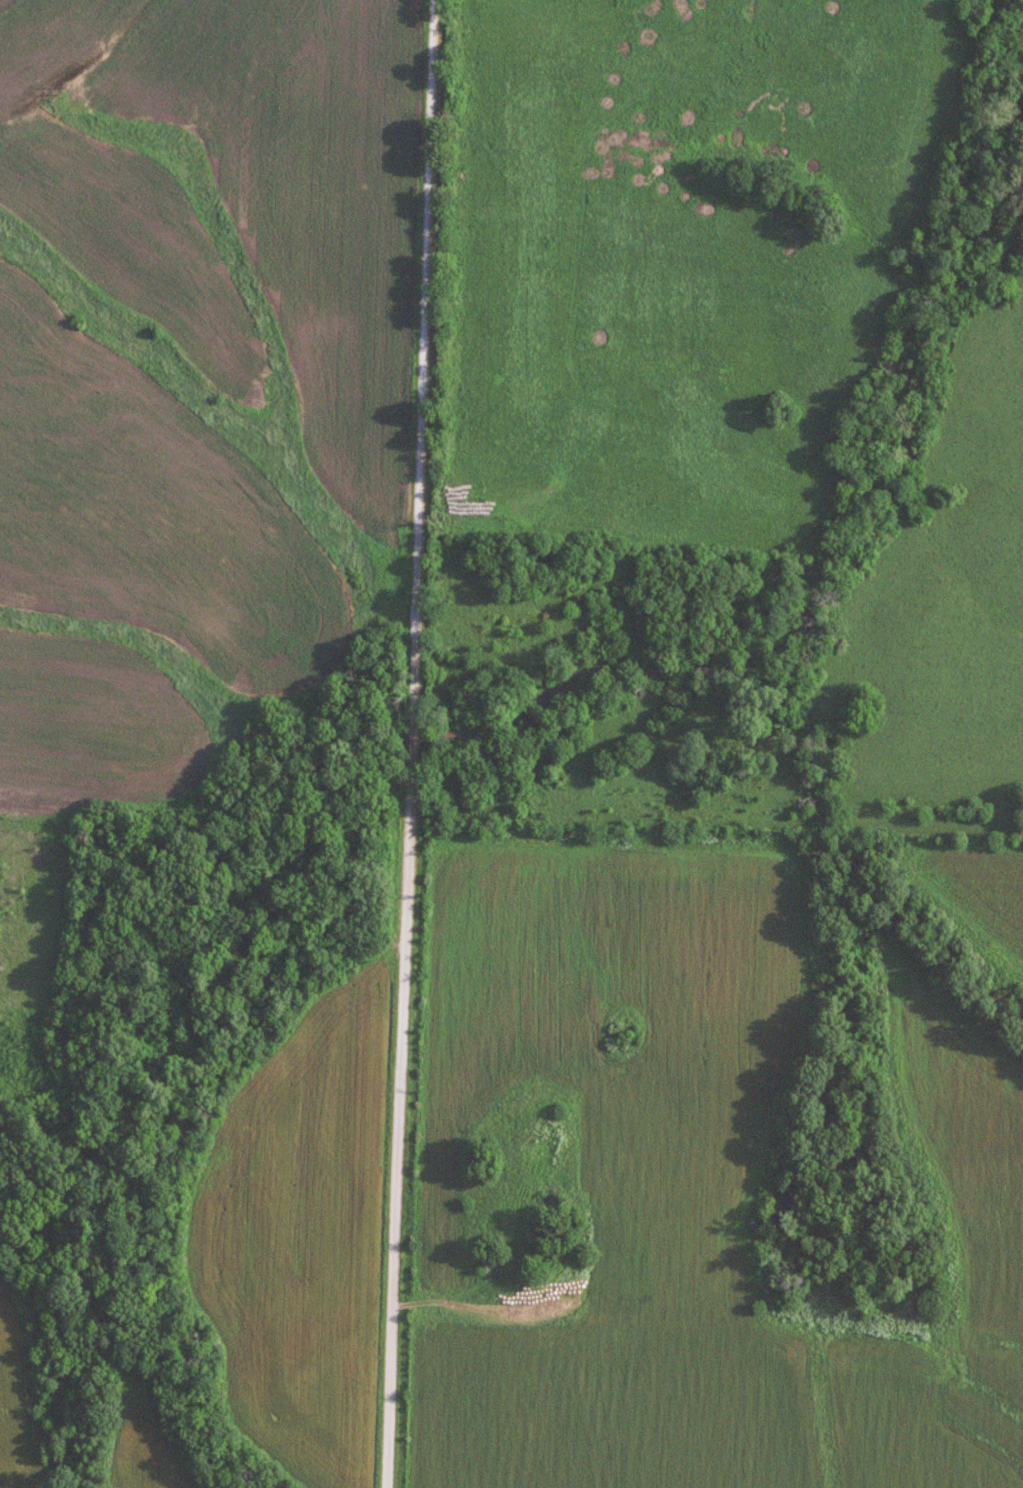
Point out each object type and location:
road: (411, 744)

